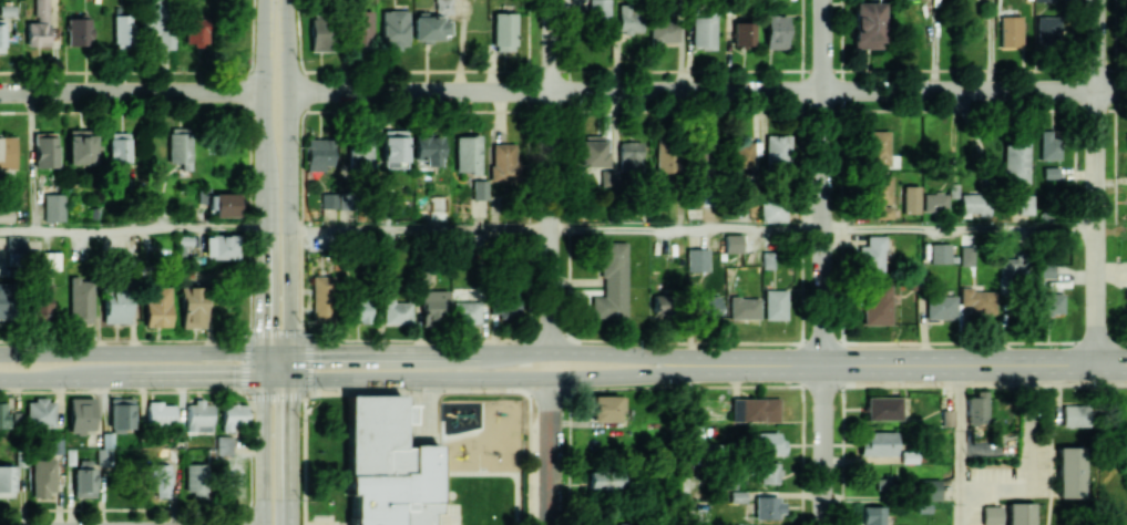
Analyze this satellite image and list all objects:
building: (1044, 0)
building: (442, 6)
building: (598, 10)
building: (629, 18)
building: (157, 23)
building: (39, 24)
building: (867, 24)
building: (359, 27)
building: (428, 27)
building: (122, 29)
building: (194, 29)
building: (392, 29)
building: (663, 30)
building: (701, 30)
building: (79, 31)
building: (503, 31)
building: (776, 31)
building: (1010, 31)
building: (1047, 31)
building: (742, 33)
building: (319, 34)
building: (1, 37)
road: (252, 37)
road: (991, 45)
road: (124, 73)
road: (256, 73)
road: (556, 91)
road: (975, 91)
road: (131, 92)
building: (1048, 144)
building: (119, 146)
building: (79, 147)
building: (178, 147)
building: (393, 147)
building: (878, 147)
building: (45, 150)
building: (427, 150)
building: (777, 150)
building: (7, 151)
building: (592, 151)
building: (358, 153)
building: (467, 153)
building: (318, 154)
building: (629, 154)
building: (740, 155)
building: (665, 157)
building: (1015, 159)
building: (503, 163)
building: (1051, 172)
road: (263, 175)
road: (290, 175)
road: (551, 176)
road: (1096, 182)
road: (823, 183)
building: (479, 189)
building: (880, 195)
building: (910, 198)
building: (441, 199)
building: (327, 200)
building: (219, 202)
building: (935, 202)
building: (974, 203)
building: (1025, 204)
building: (53, 207)
building: (771, 210)
building: (694, 212)
building: (6, 215)
road: (420, 228)
road: (687, 228)
road: (960, 228)
road: (131, 230)
building: (732, 243)
building: (219, 246)
building: (940, 253)
building: (966, 255)
building: (871, 256)
building: (696, 259)
building: (767, 259)
building: (50, 260)
building: (1012, 268)
building: (1045, 270)
building: (612, 282)
building: (1125, 294)
building: (320, 298)
building: (80, 299)
building: (977, 300)
building: (4, 301)
building: (1049, 302)
building: (660, 303)
building: (773, 303)
building: (116, 305)
building: (465, 305)
building: (875, 305)
building: (157, 306)
building: (433, 306)
building: (504, 306)
building: (192, 307)
building: (705, 307)
building: (940, 307)
building: (742, 308)
building: (358, 309)
building: (397, 312)
road: (131, 352)
traffic signals: (263, 352)
road: (276, 352)
traffic signals: (290, 352)
road: (556, 352)
road: (975, 366)
road: (290, 367)
road: (556, 378)
road: (145, 380)
traffic signals: (263, 380)
traffic signals: (290, 381)
road: (975, 383)
park: (1117, 406)
building: (605, 408)
building: (882, 408)
building: (976, 408)
building: (754, 410)
building: (121, 412)
building: (40, 413)
building: (160, 413)
building: (81, 414)
building: (1074, 415)
building: (3, 416)
building: (198, 416)
building: (233, 416)
building: (947, 416)
road: (263, 439)
building: (766, 443)
building: (878, 443)
road: (961, 444)
building: (224, 445)
road: (823, 445)
road: (685, 450)
road: (551, 452)
road: (290, 453)
building: (103, 456)
road: (1028, 457)
building: (371, 461)
building: (767, 472)
building: (1069, 472)
building: (43, 476)
building: (83, 477)
building: (158, 478)
building: (194, 478)
building: (604, 480)
building: (7, 481)
building: (882, 484)
building: (928, 488)
building: (767, 507)
building: (1020, 509)
building: (873, 515)
building: (991, 515)
building: (1021, 521)
building: (605, 522)

